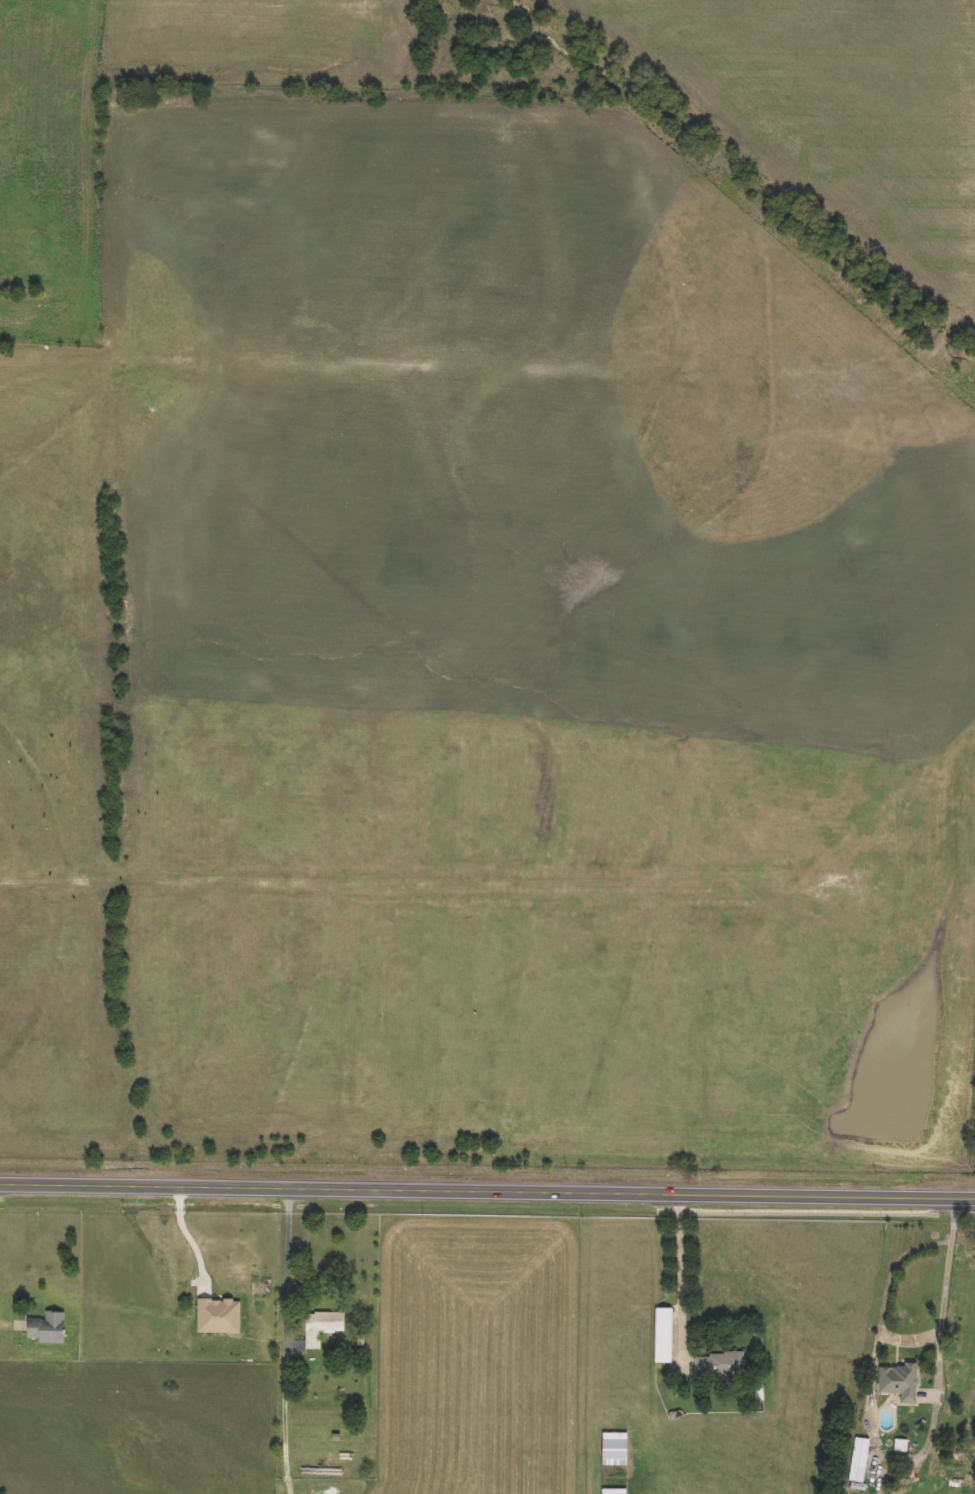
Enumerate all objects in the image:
road: (487, 1192)
road: (188, 1237)
road: (288, 1272)
road: (681, 1282)
road: (946, 1295)
road: (8, 1324)
building: (322, 1326)
building: (47, 1327)
building: (663, 1335)
building: (720, 1365)
building: (899, 1381)
road: (285, 1424)
building: (614, 1449)
building: (859, 1460)

